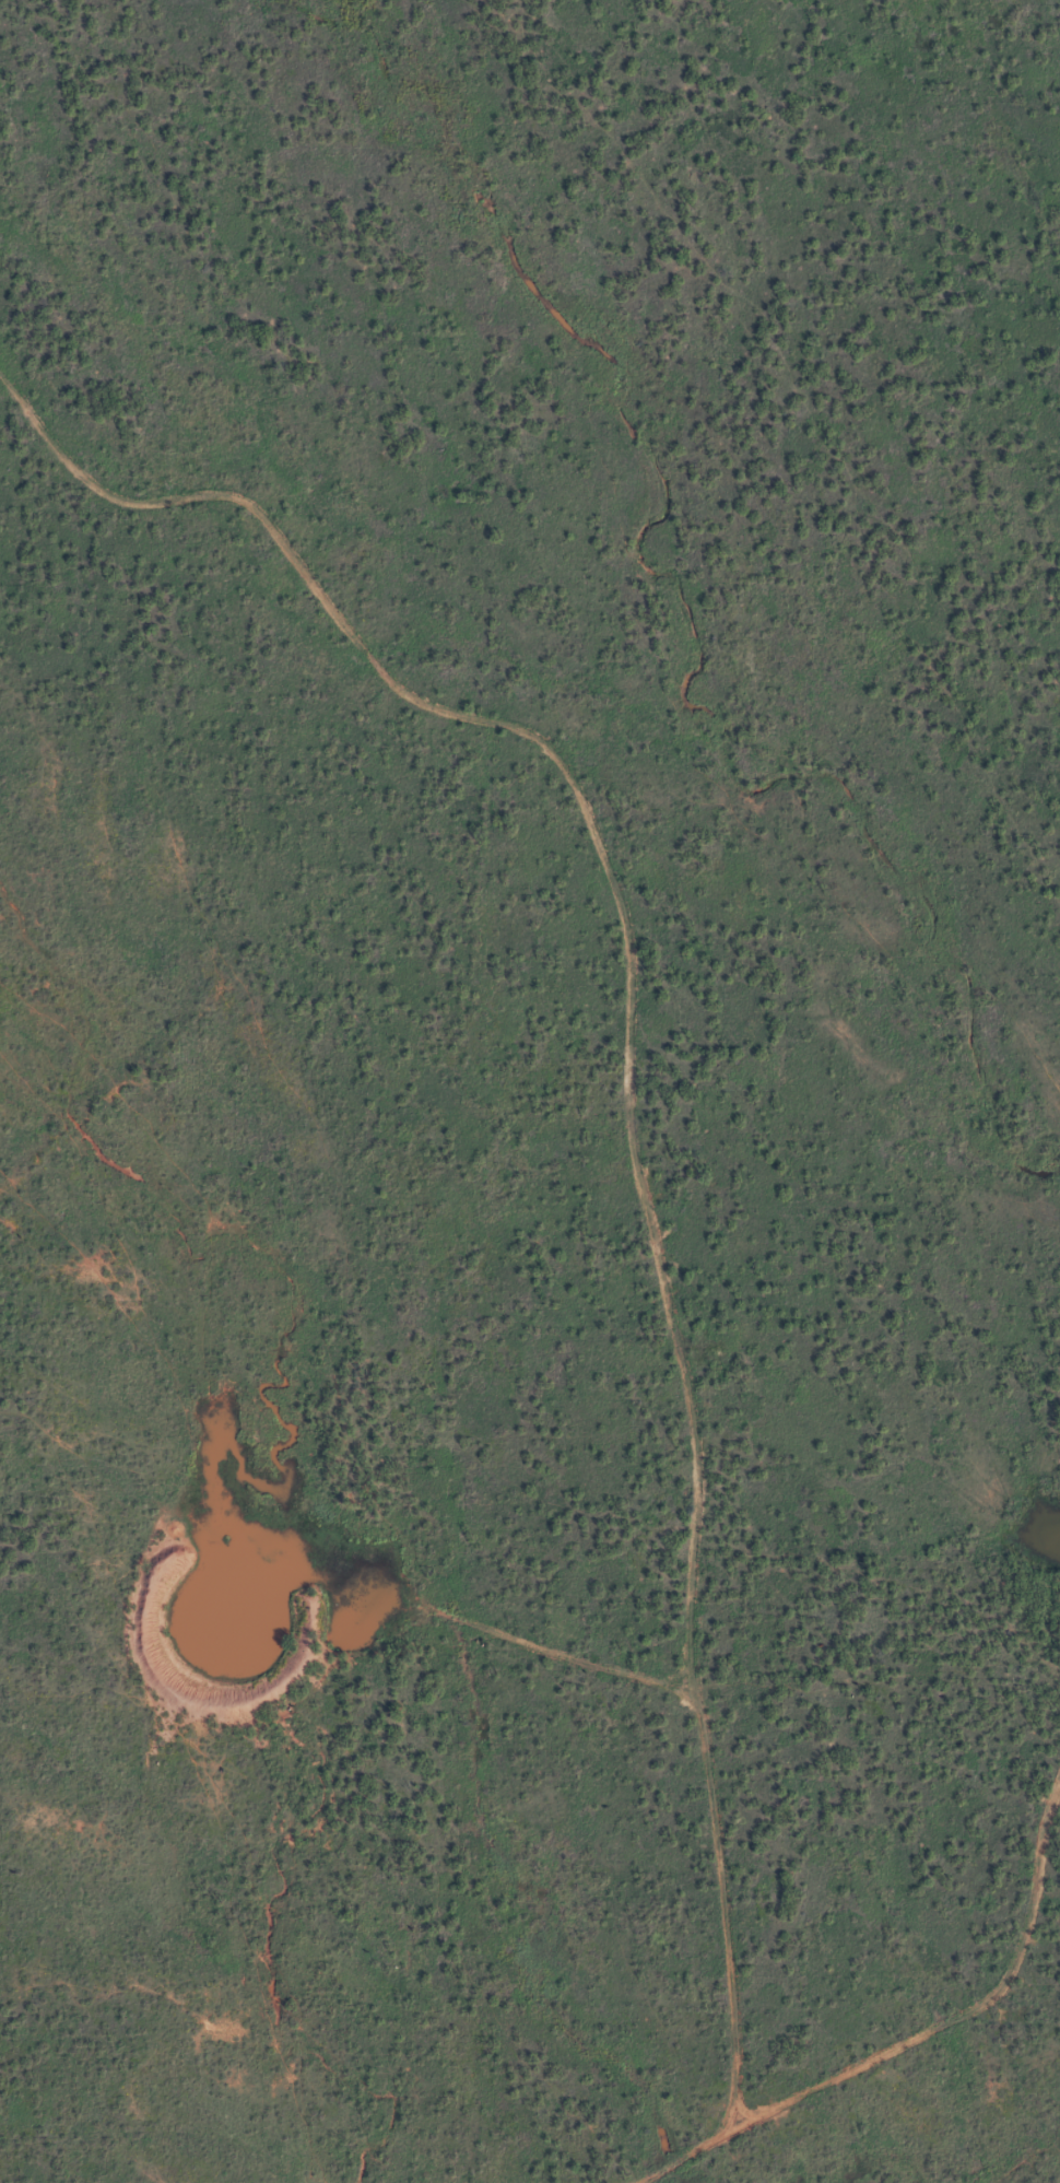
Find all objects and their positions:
road: (941, 2039)

